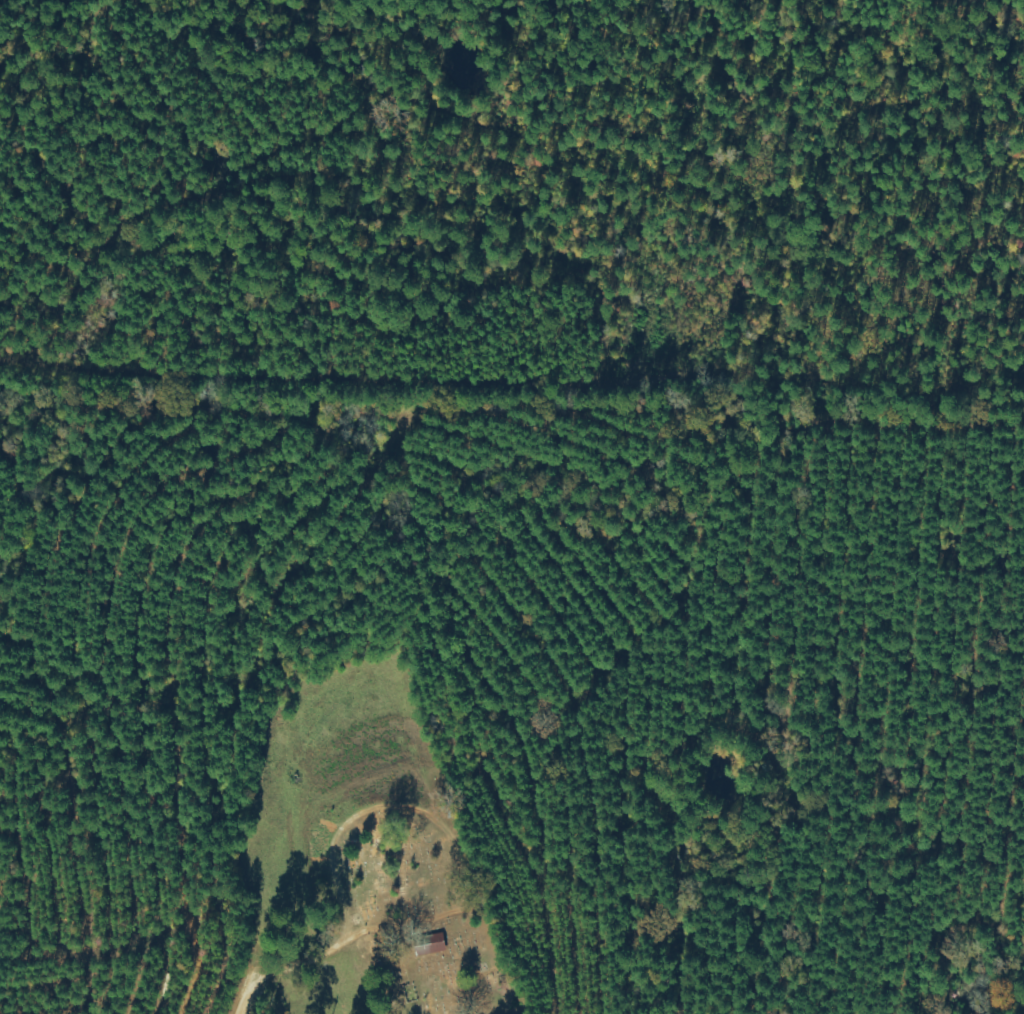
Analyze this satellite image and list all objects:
building: (434, 946)
road: (295, 969)

